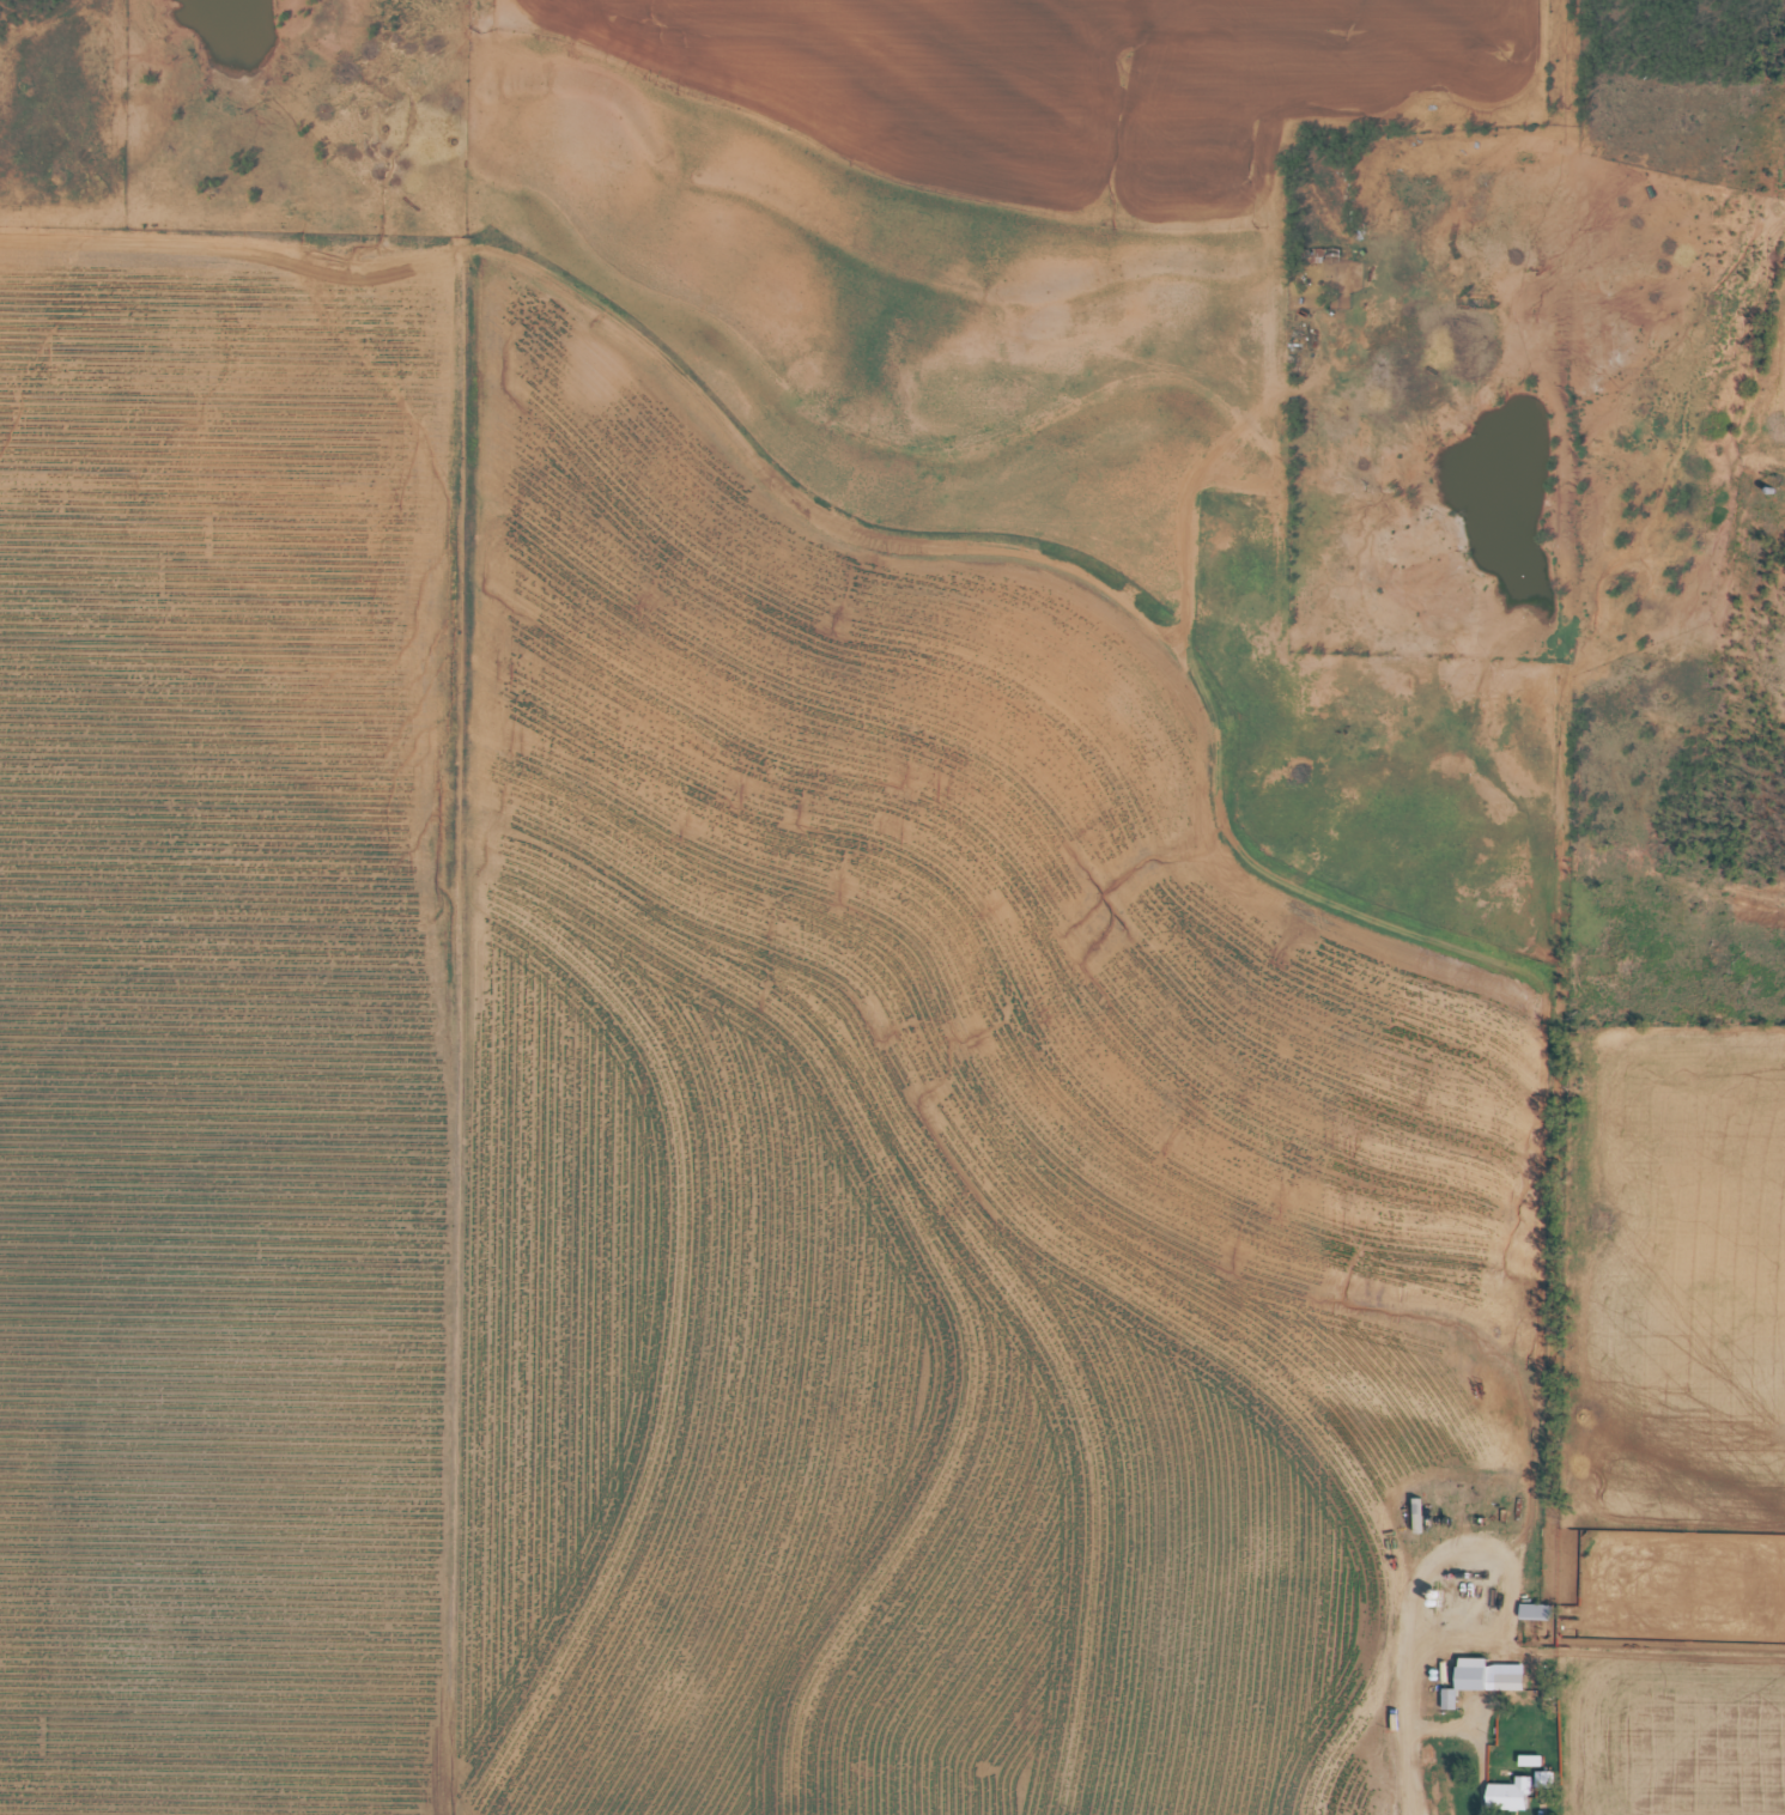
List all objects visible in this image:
building: (1319, 256)
building: (1534, 1613)
building: (1473, 1679)
building: (1508, 1682)
building: (1449, 1699)
building: (1510, 1796)

